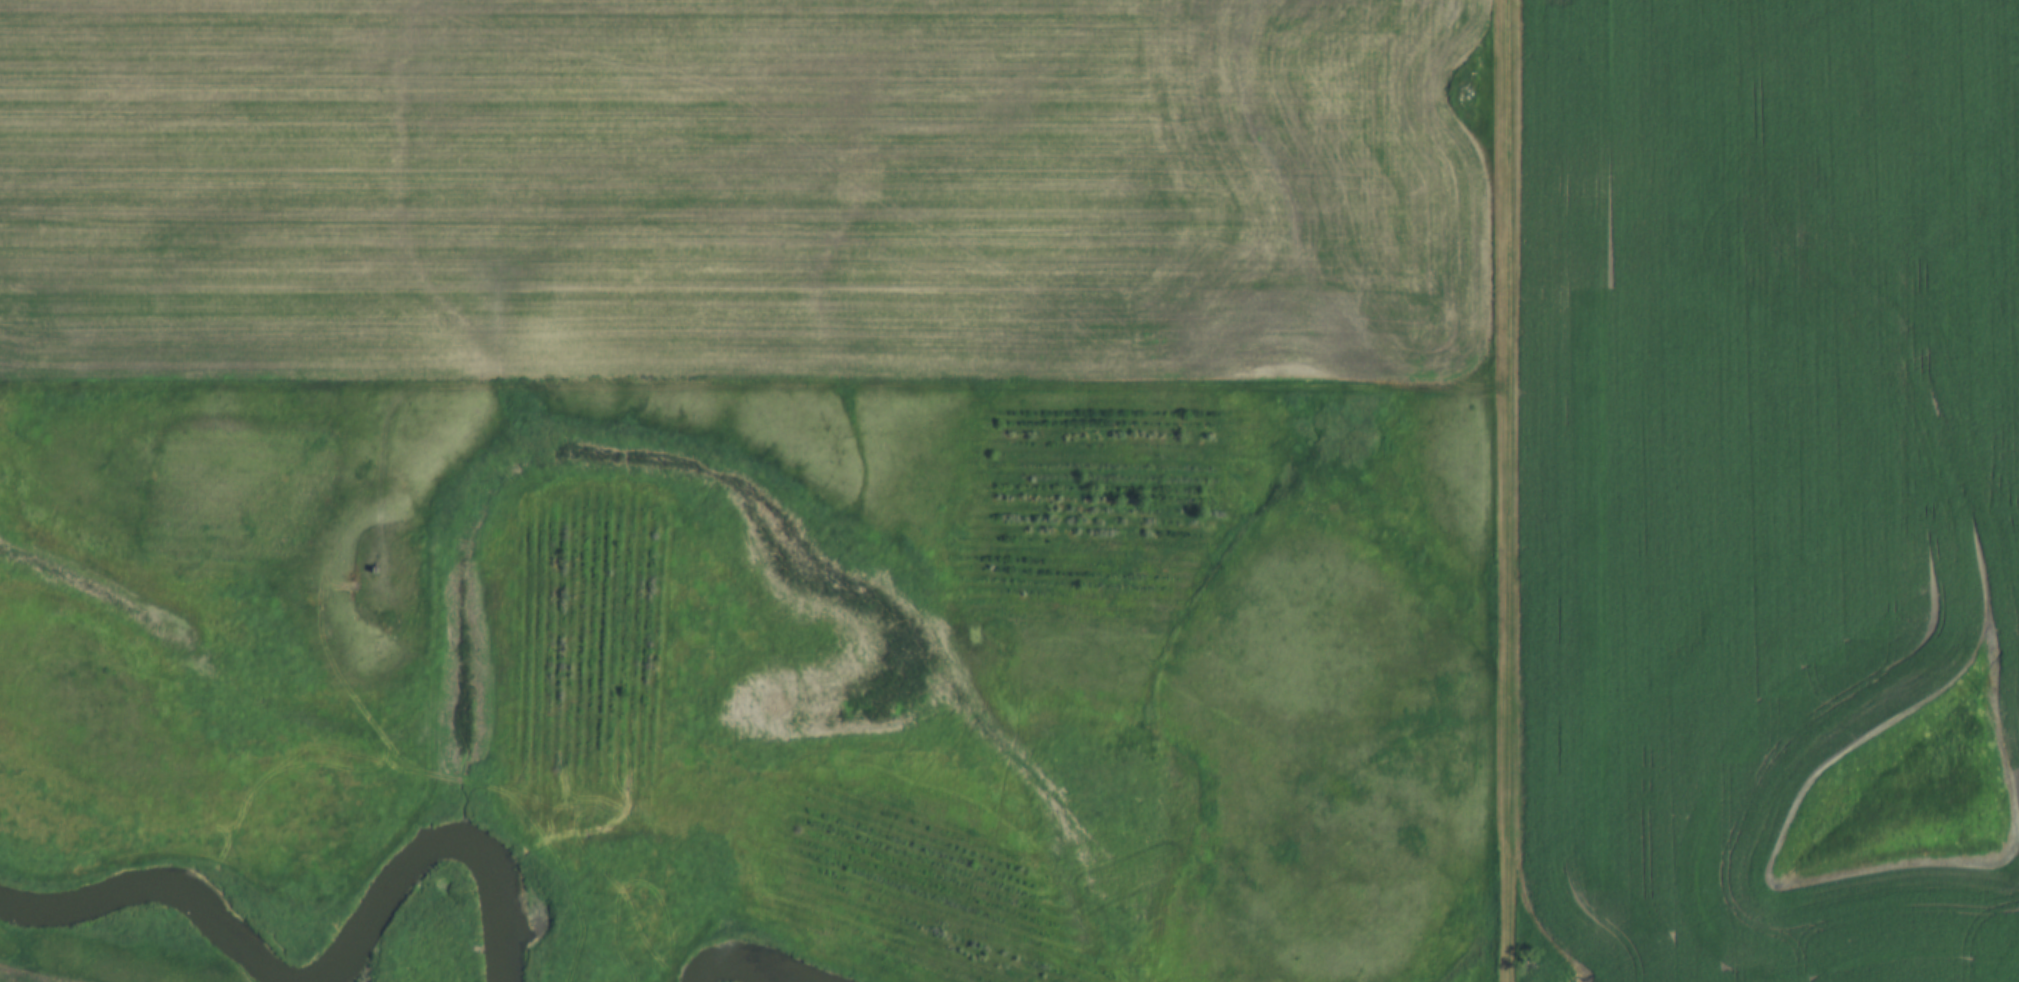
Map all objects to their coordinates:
road: (1513, 491)
river: (755, 961)
river: (314, 973)

